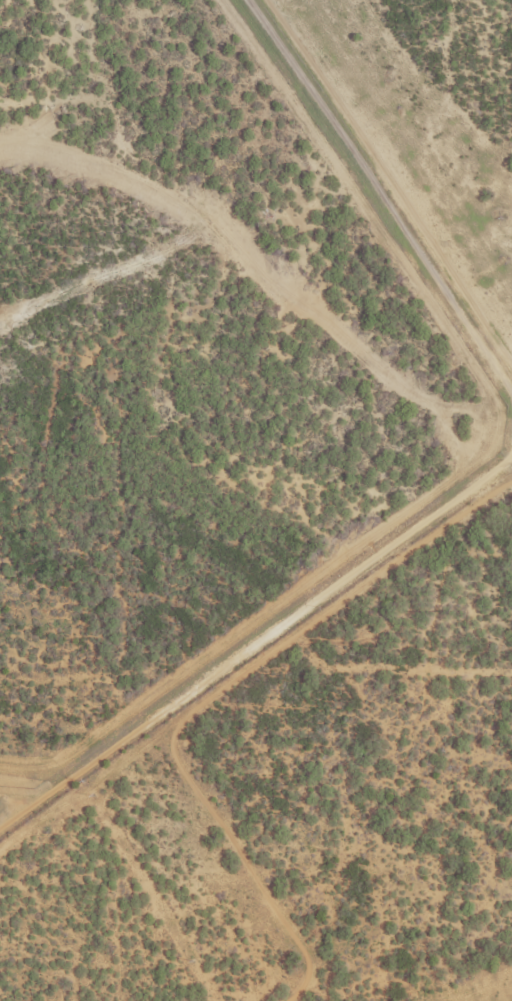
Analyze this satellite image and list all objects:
road: (385, 189)
road: (256, 644)

